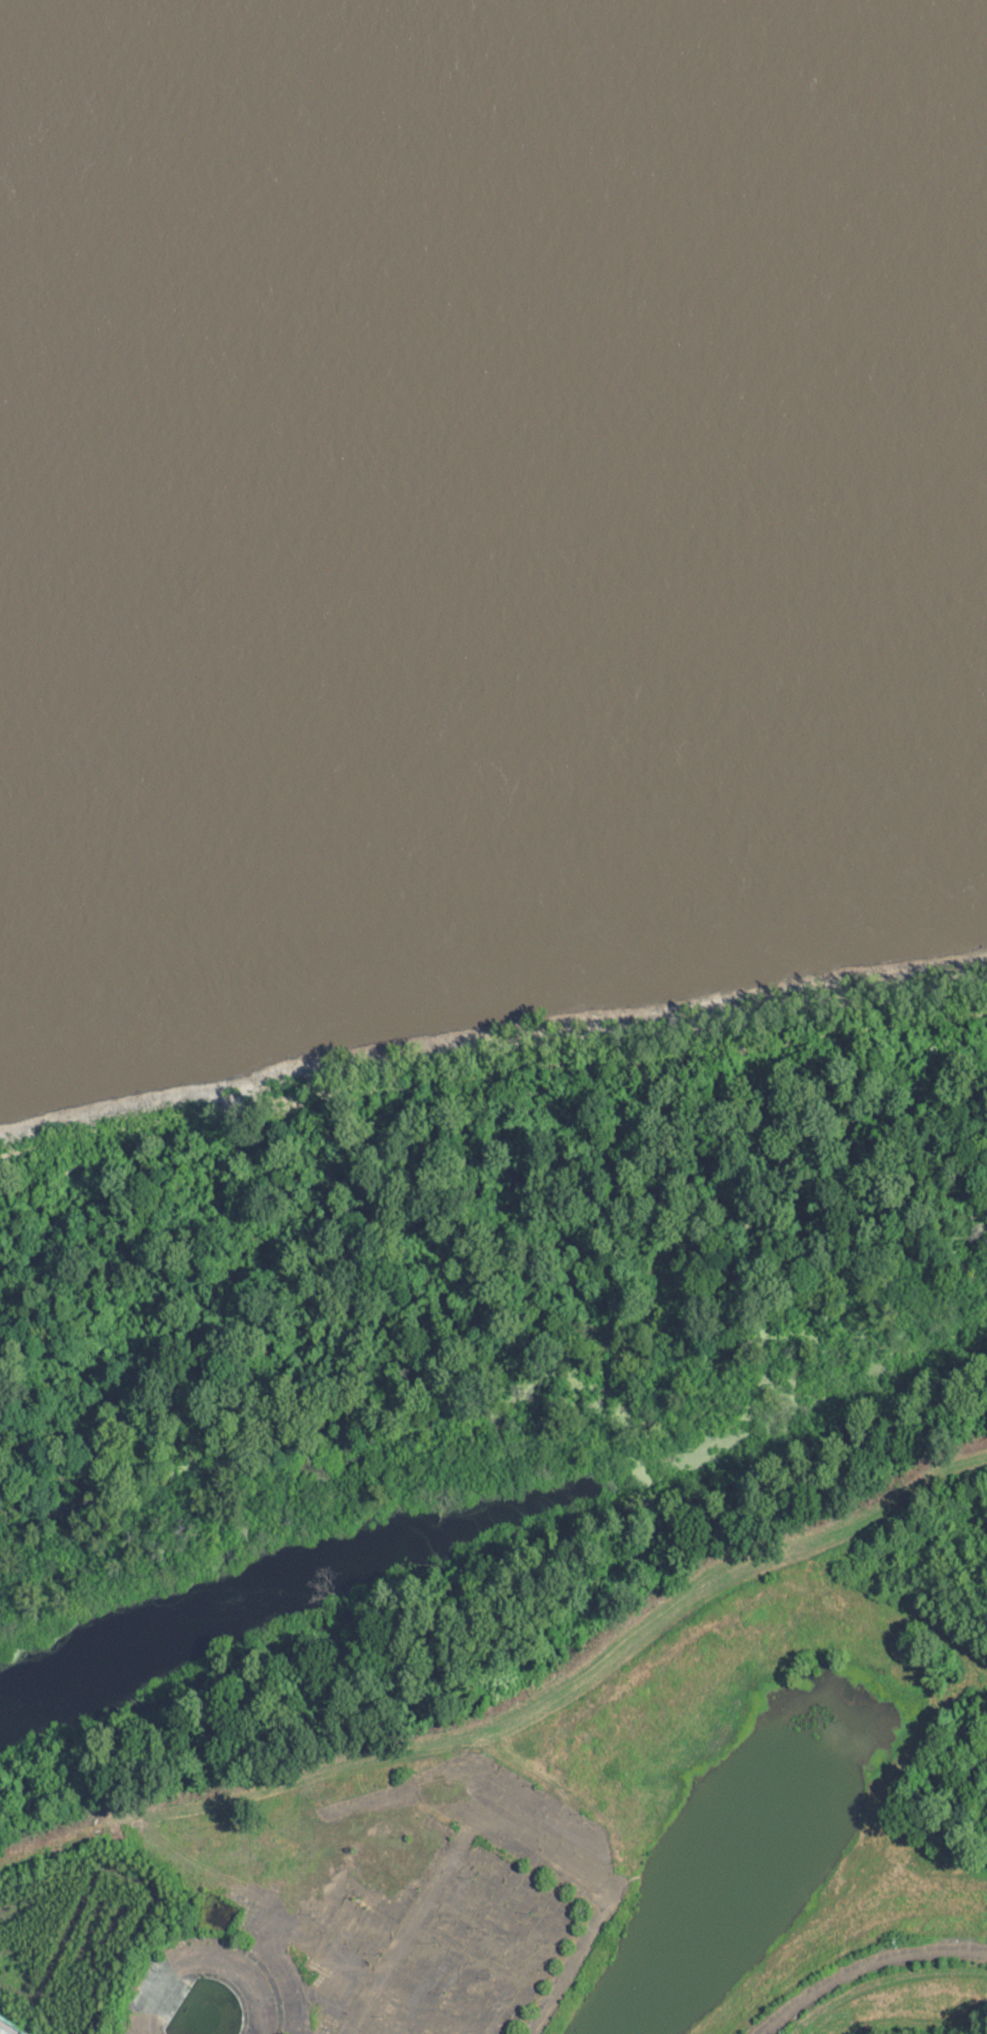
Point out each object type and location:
river: (453, 98)
road: (202, 1955)
road: (572, 1966)
road: (865, 1968)
building: (14, 2025)

